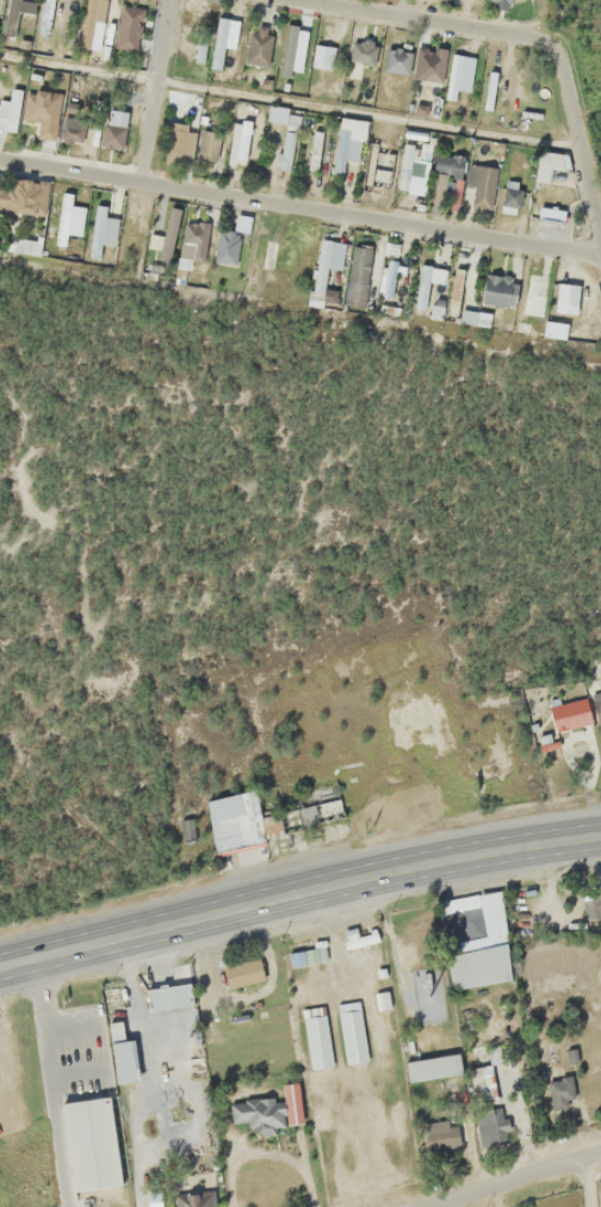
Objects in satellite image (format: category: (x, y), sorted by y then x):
building: (498, 2)
building: (13, 17)
road: (433, 19)
building: (128, 27)
building: (219, 43)
building: (258, 45)
building: (199, 49)
building: (287, 50)
building: (322, 56)
building: (355, 60)
building: (396, 62)
building: (433, 64)
building: (490, 86)
road: (154, 91)
building: (8, 109)
building: (42, 112)
building: (113, 129)
building: (75, 130)
building: (284, 133)
road: (576, 137)
building: (238, 141)
building: (348, 142)
building: (178, 146)
building: (207, 146)
building: (315, 149)
building: (547, 165)
building: (445, 175)
building: (481, 184)
road: (299, 208)
building: (550, 215)
building: (63, 218)
building: (168, 233)
building: (193, 240)
building: (225, 246)
building: (267, 254)
building: (324, 270)
building: (363, 276)
building: (427, 282)
building: (497, 290)
building: (534, 294)
building: (560, 302)
building: (597, 707)
building: (569, 713)
road: (299, 894)
building: (359, 940)
building: (471, 963)
building: (242, 972)
building: (168, 996)
building: (207, 1032)
building: (352, 1036)
building: (316, 1040)
building: (122, 1060)
building: (432, 1067)
building: (479, 1076)
road: (44, 1083)
building: (559, 1092)
building: (291, 1102)
building: (256, 1113)
building: (440, 1134)
building: (83, 1137)
road: (510, 1180)
road: (587, 1182)
building: (190, 1193)

